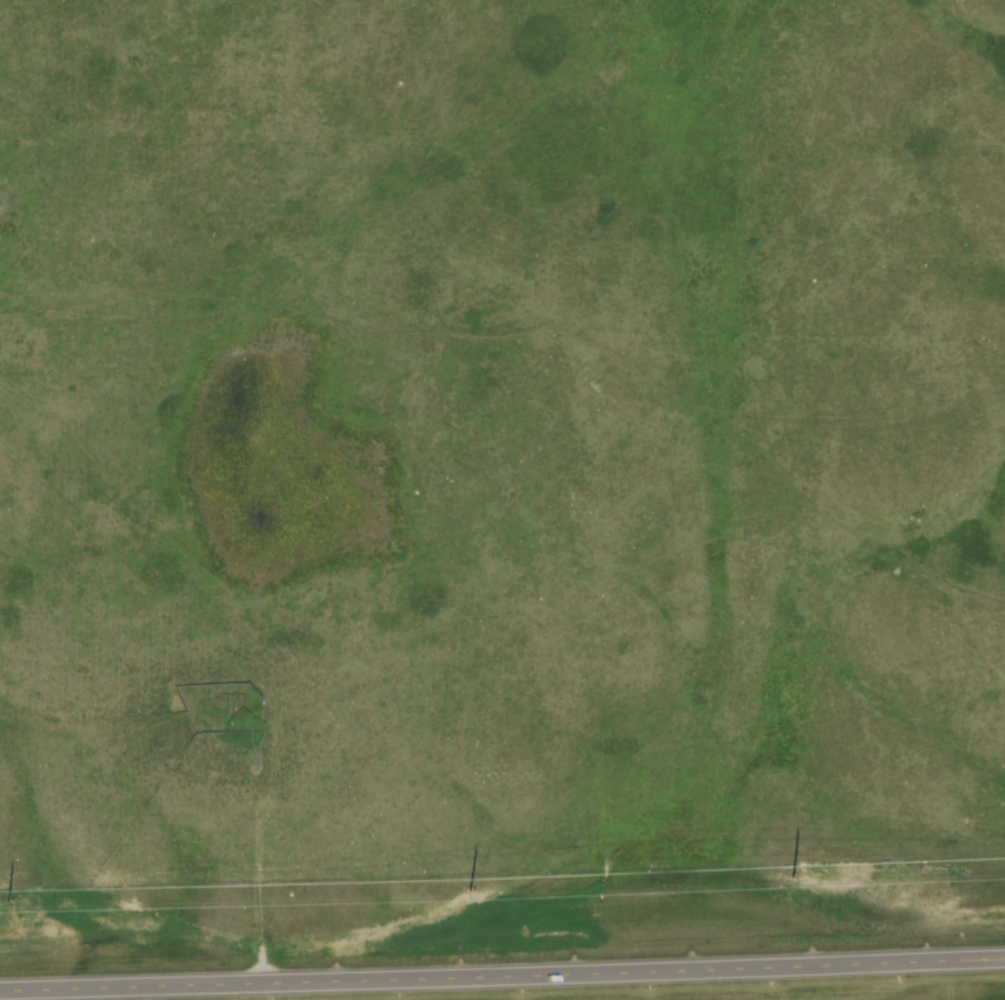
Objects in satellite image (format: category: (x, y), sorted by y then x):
power tower: (792, 875)
power tower: (469, 888)
power tower: (7, 900)
road: (502, 977)

